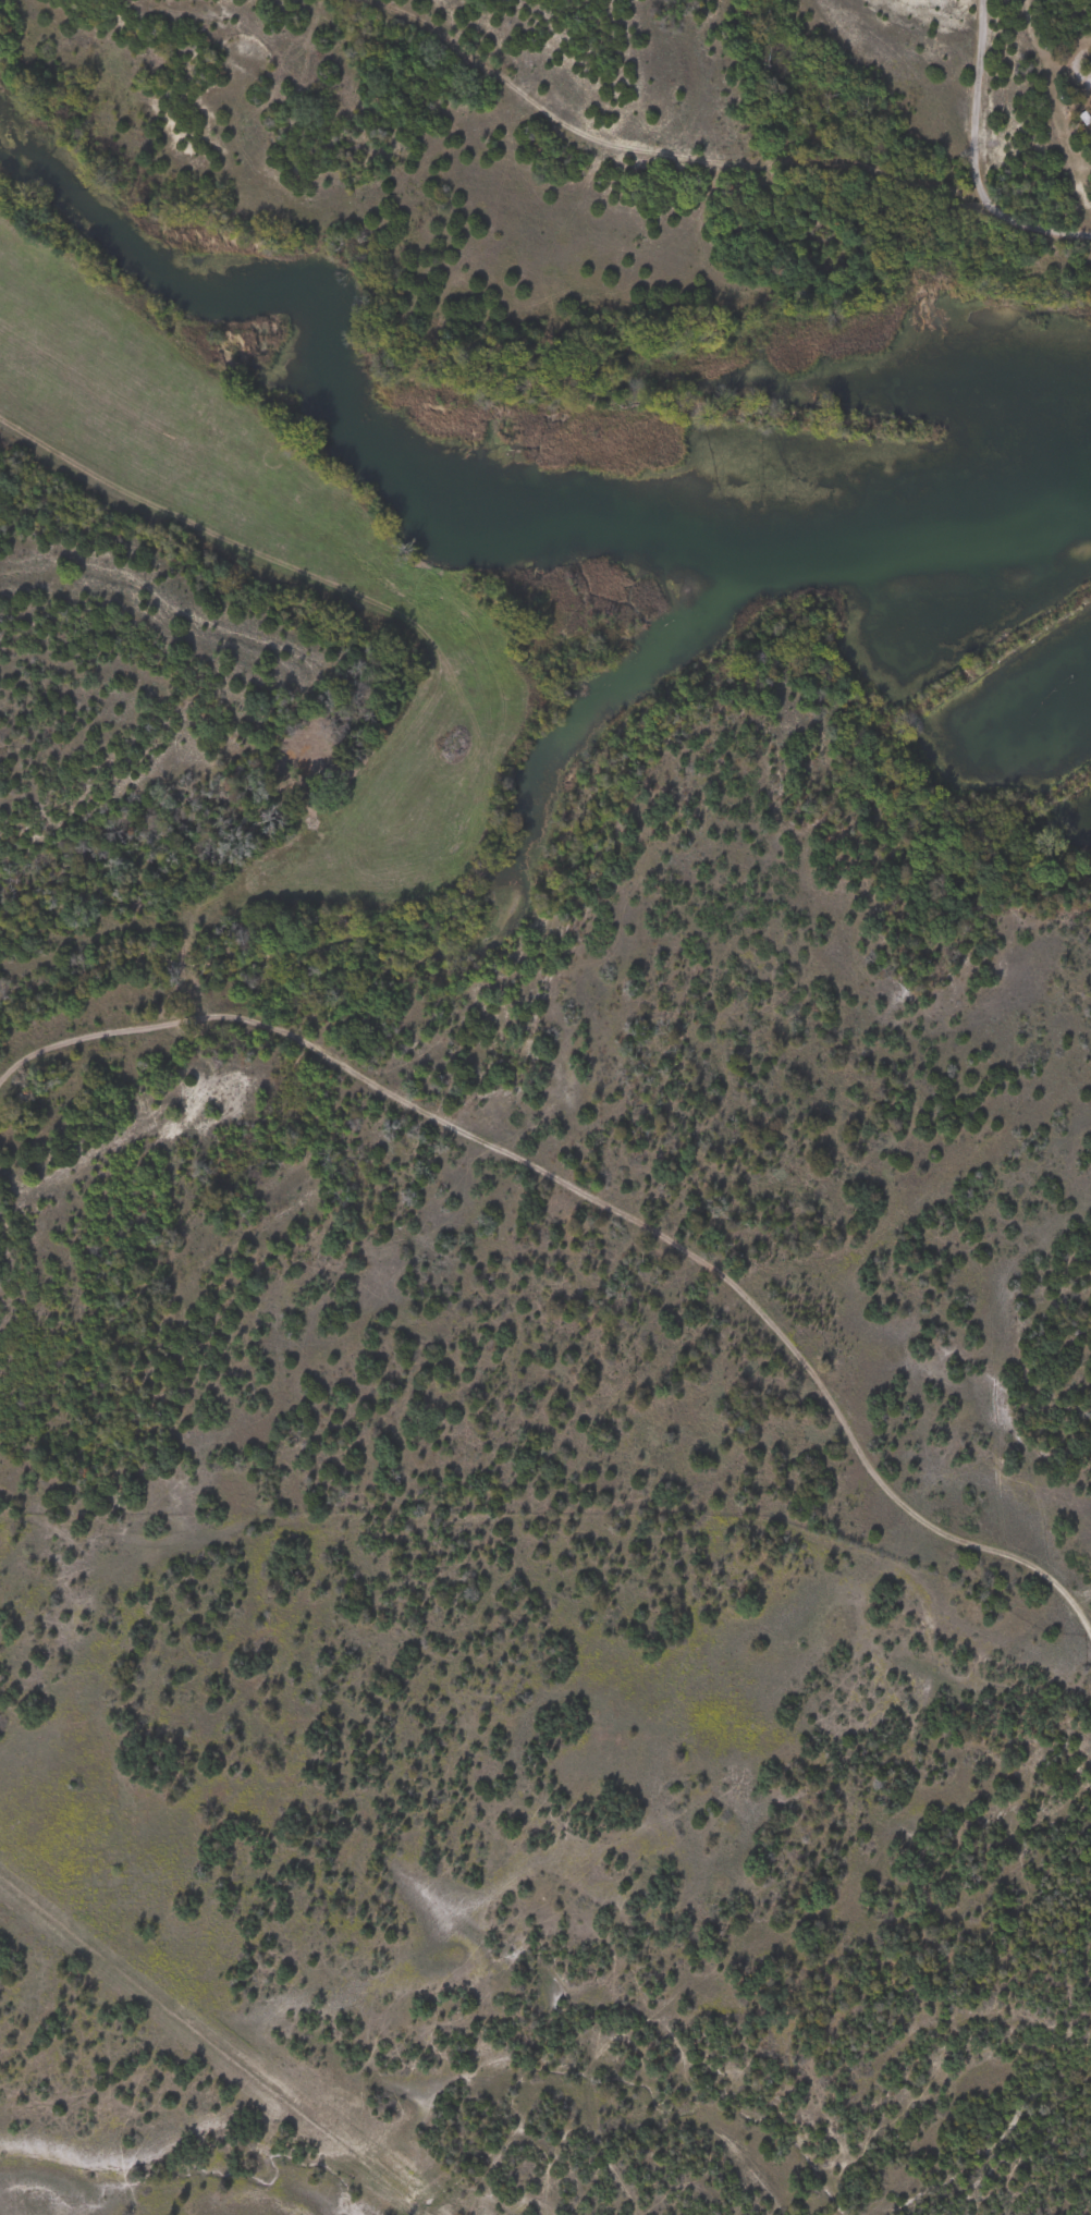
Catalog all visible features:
road: (961, 79)
road: (1013, 213)

